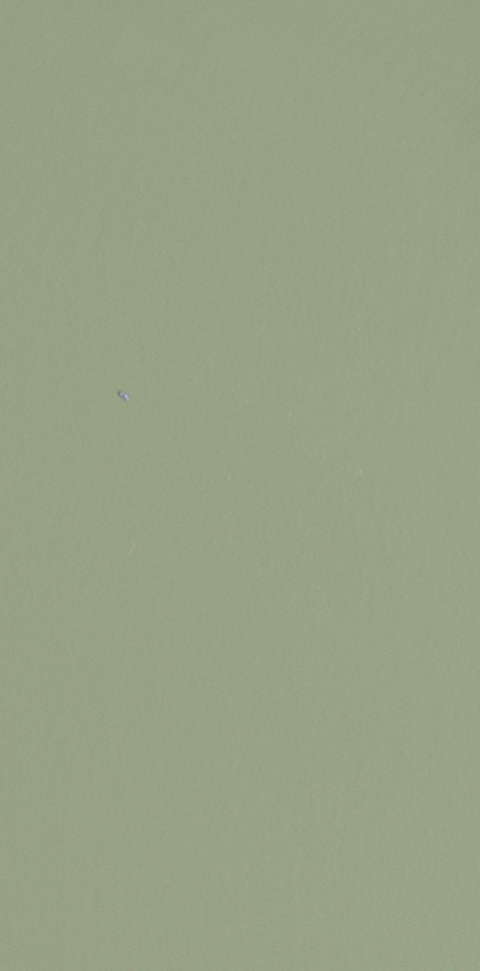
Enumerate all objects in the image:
river: (240, 441)

